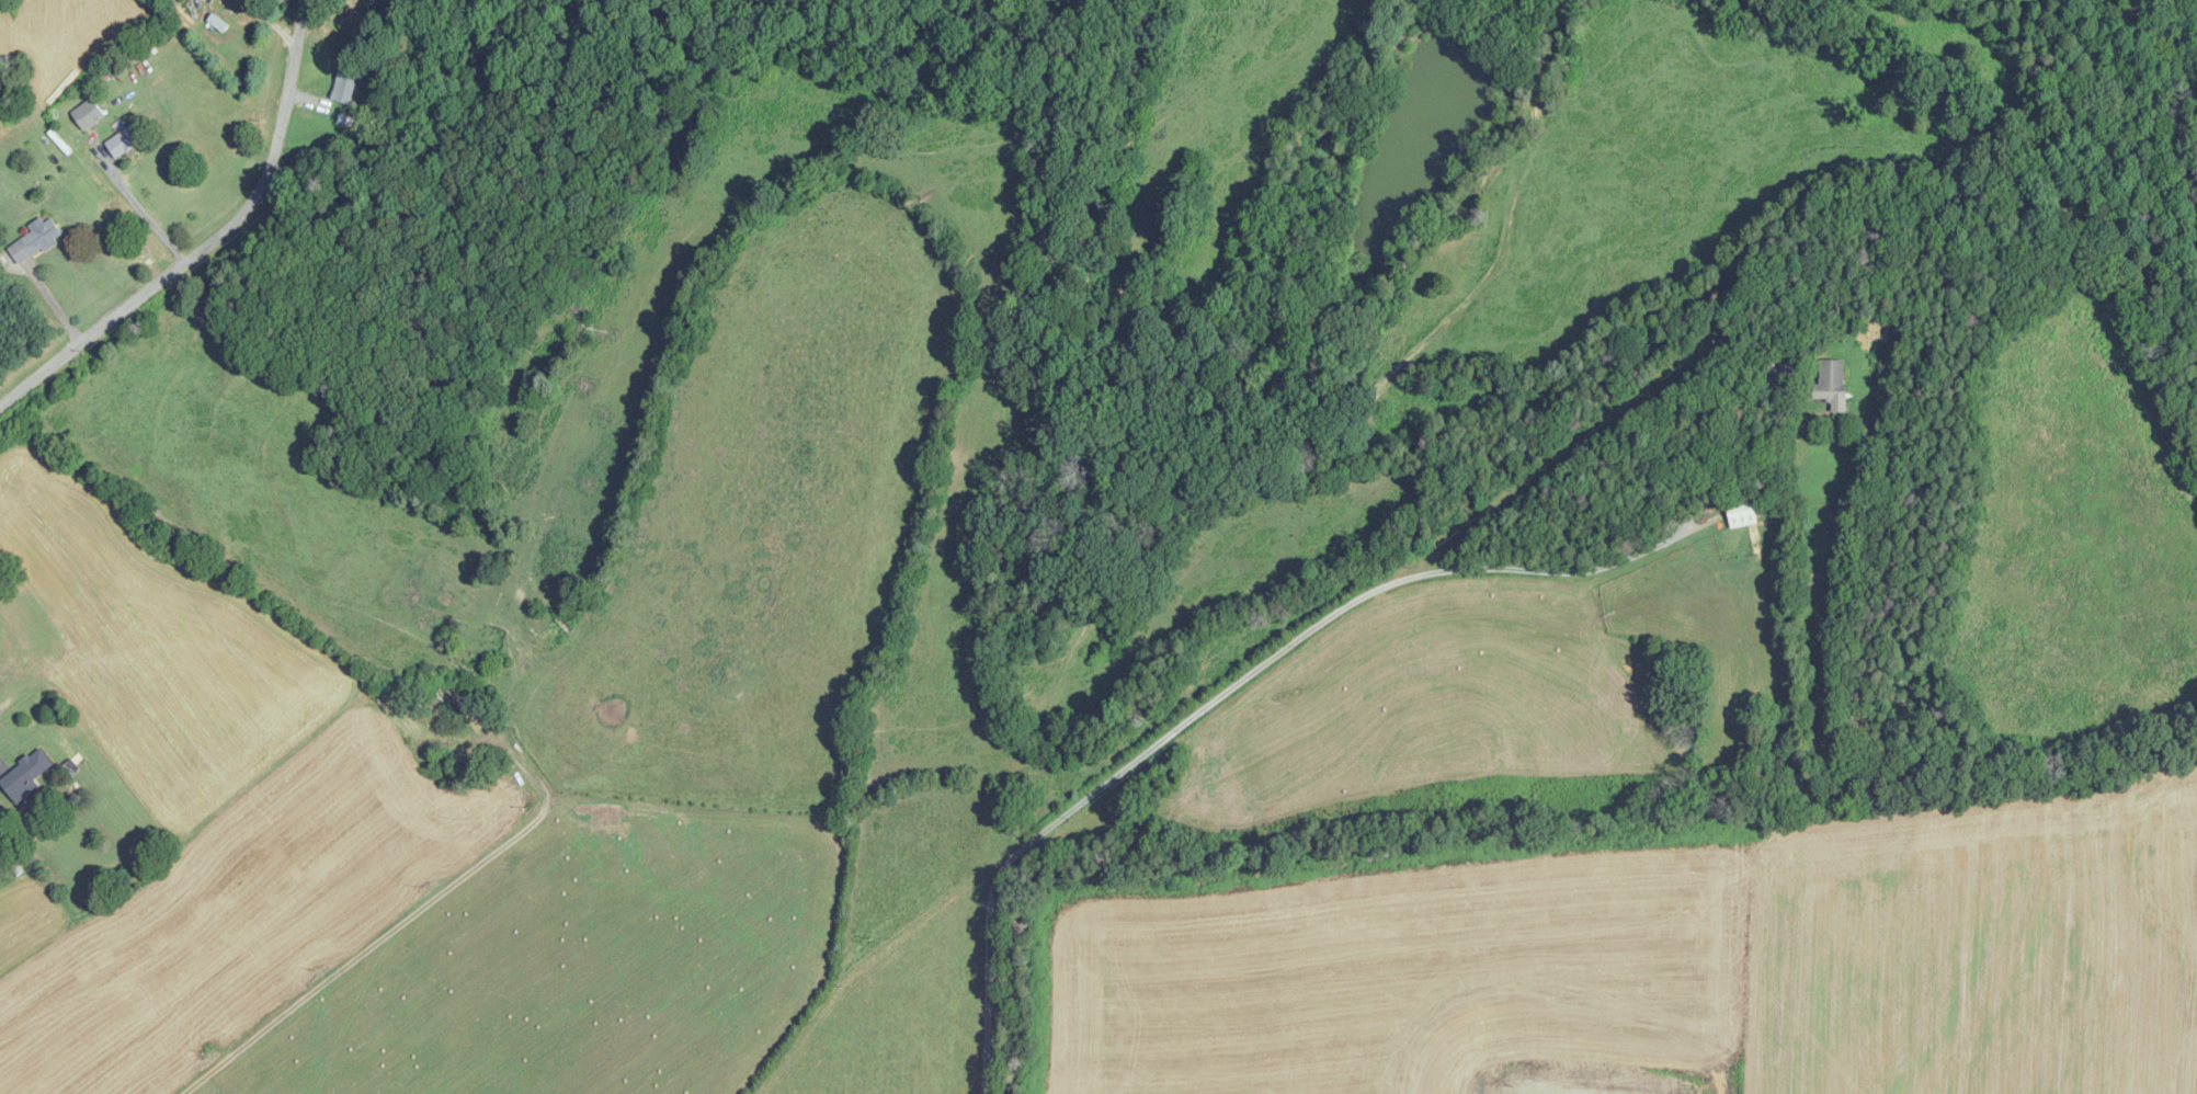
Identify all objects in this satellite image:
road: (203, 2)
building: (360, 14)
road: (270, 20)
building: (343, 89)
building: (88, 114)
building: (124, 141)
road: (141, 210)
road: (210, 238)
building: (35, 242)
building: (1832, 384)
building: (1741, 511)
road: (98, 622)
road: (1228, 690)
building: (25, 775)
road: (374, 935)

